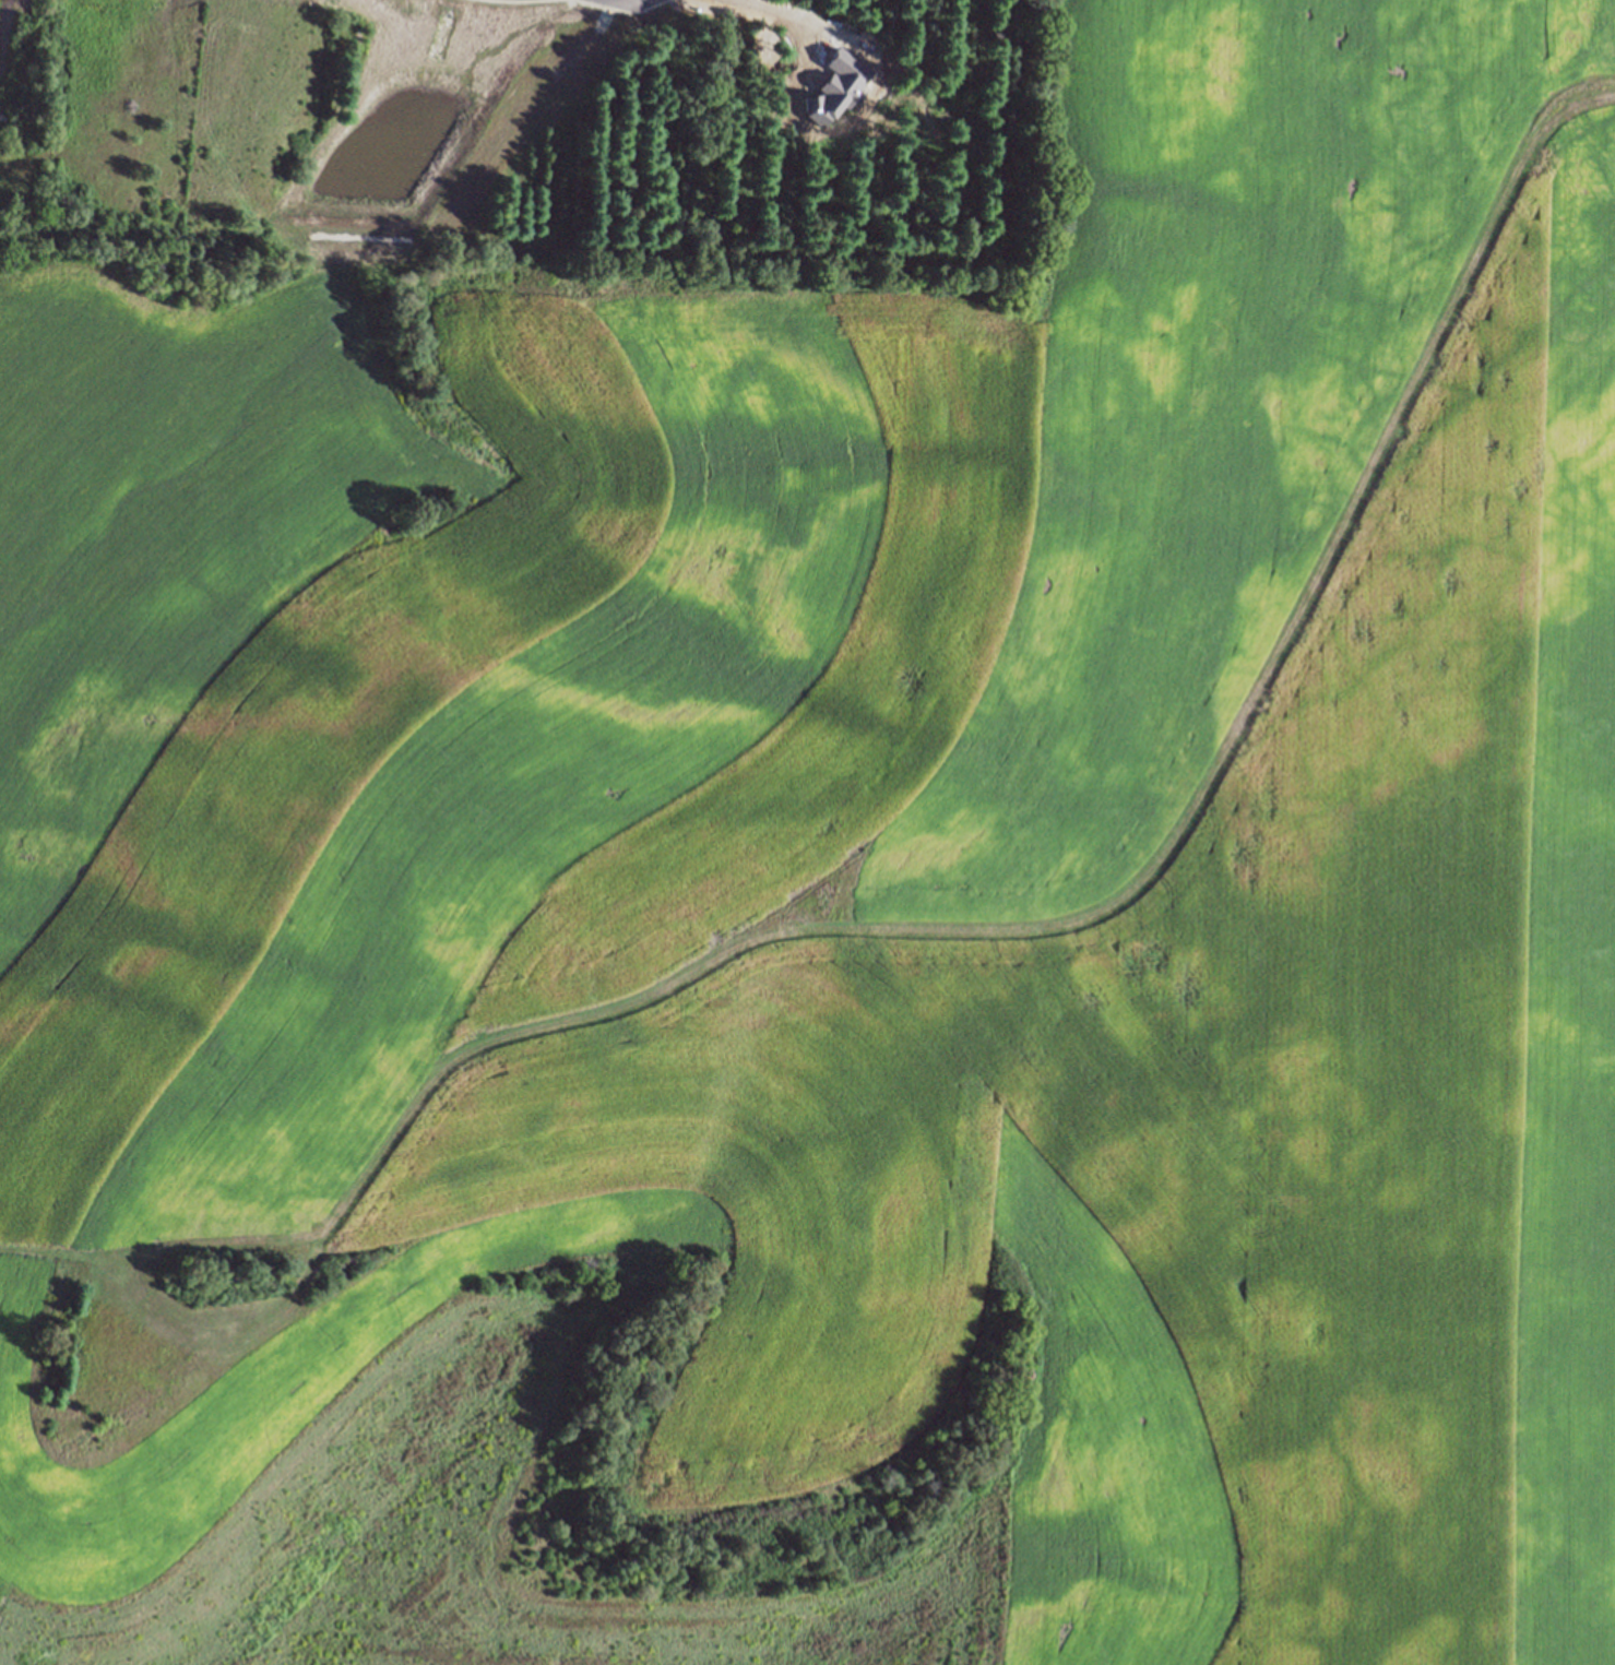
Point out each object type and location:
road: (796, 16)
crop: (835, 904)

